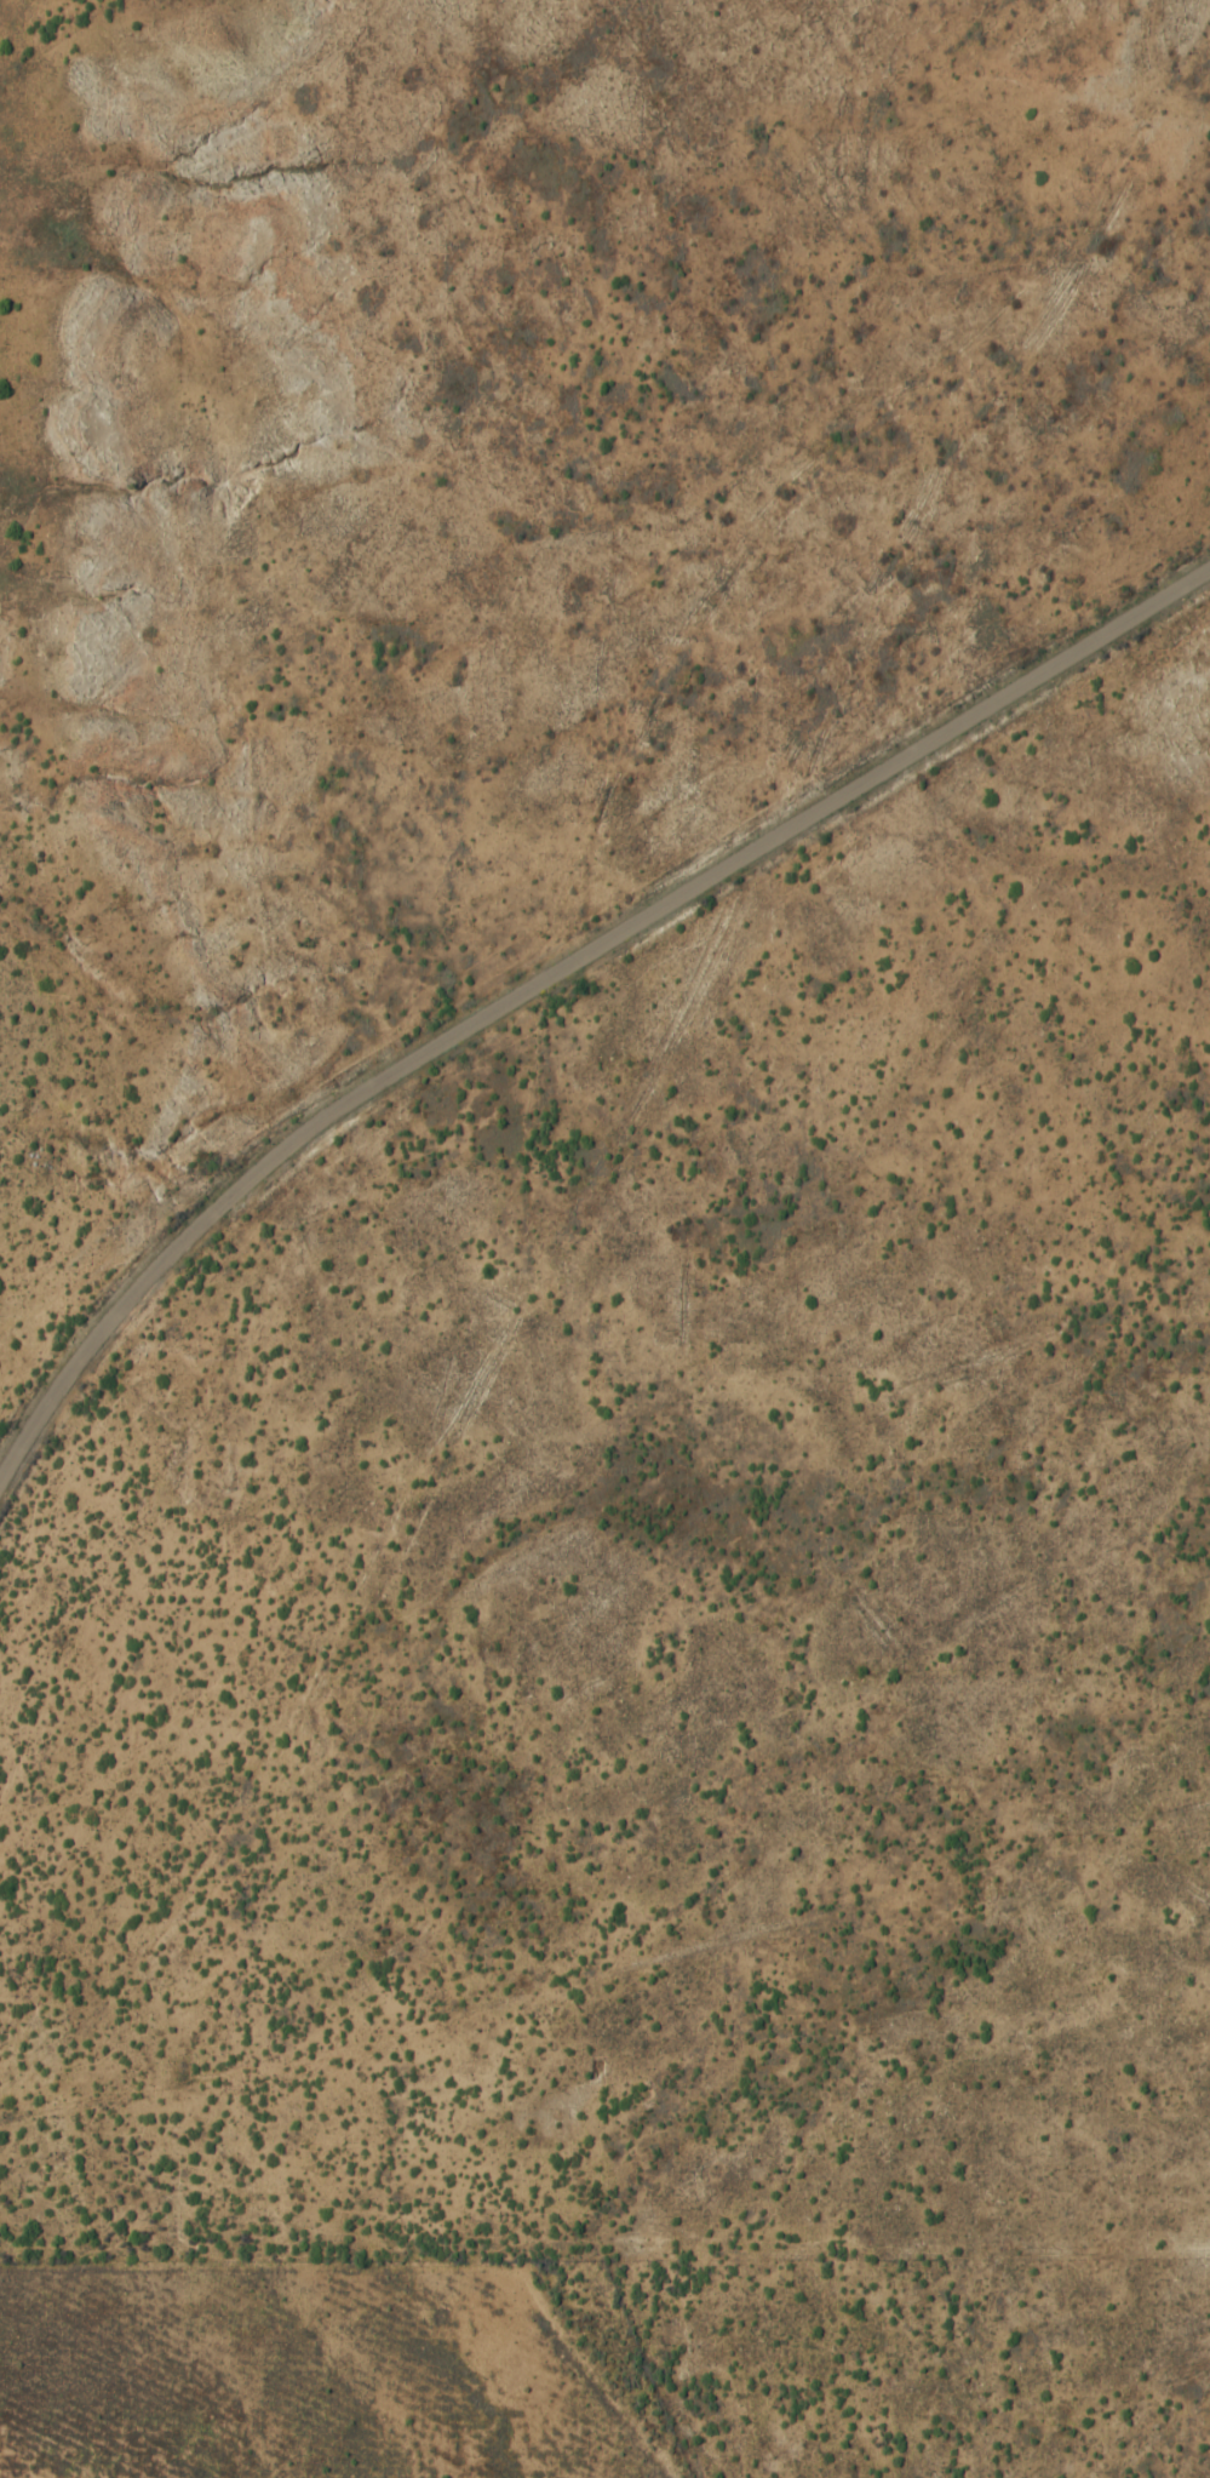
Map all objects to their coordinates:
road: (558, 966)

